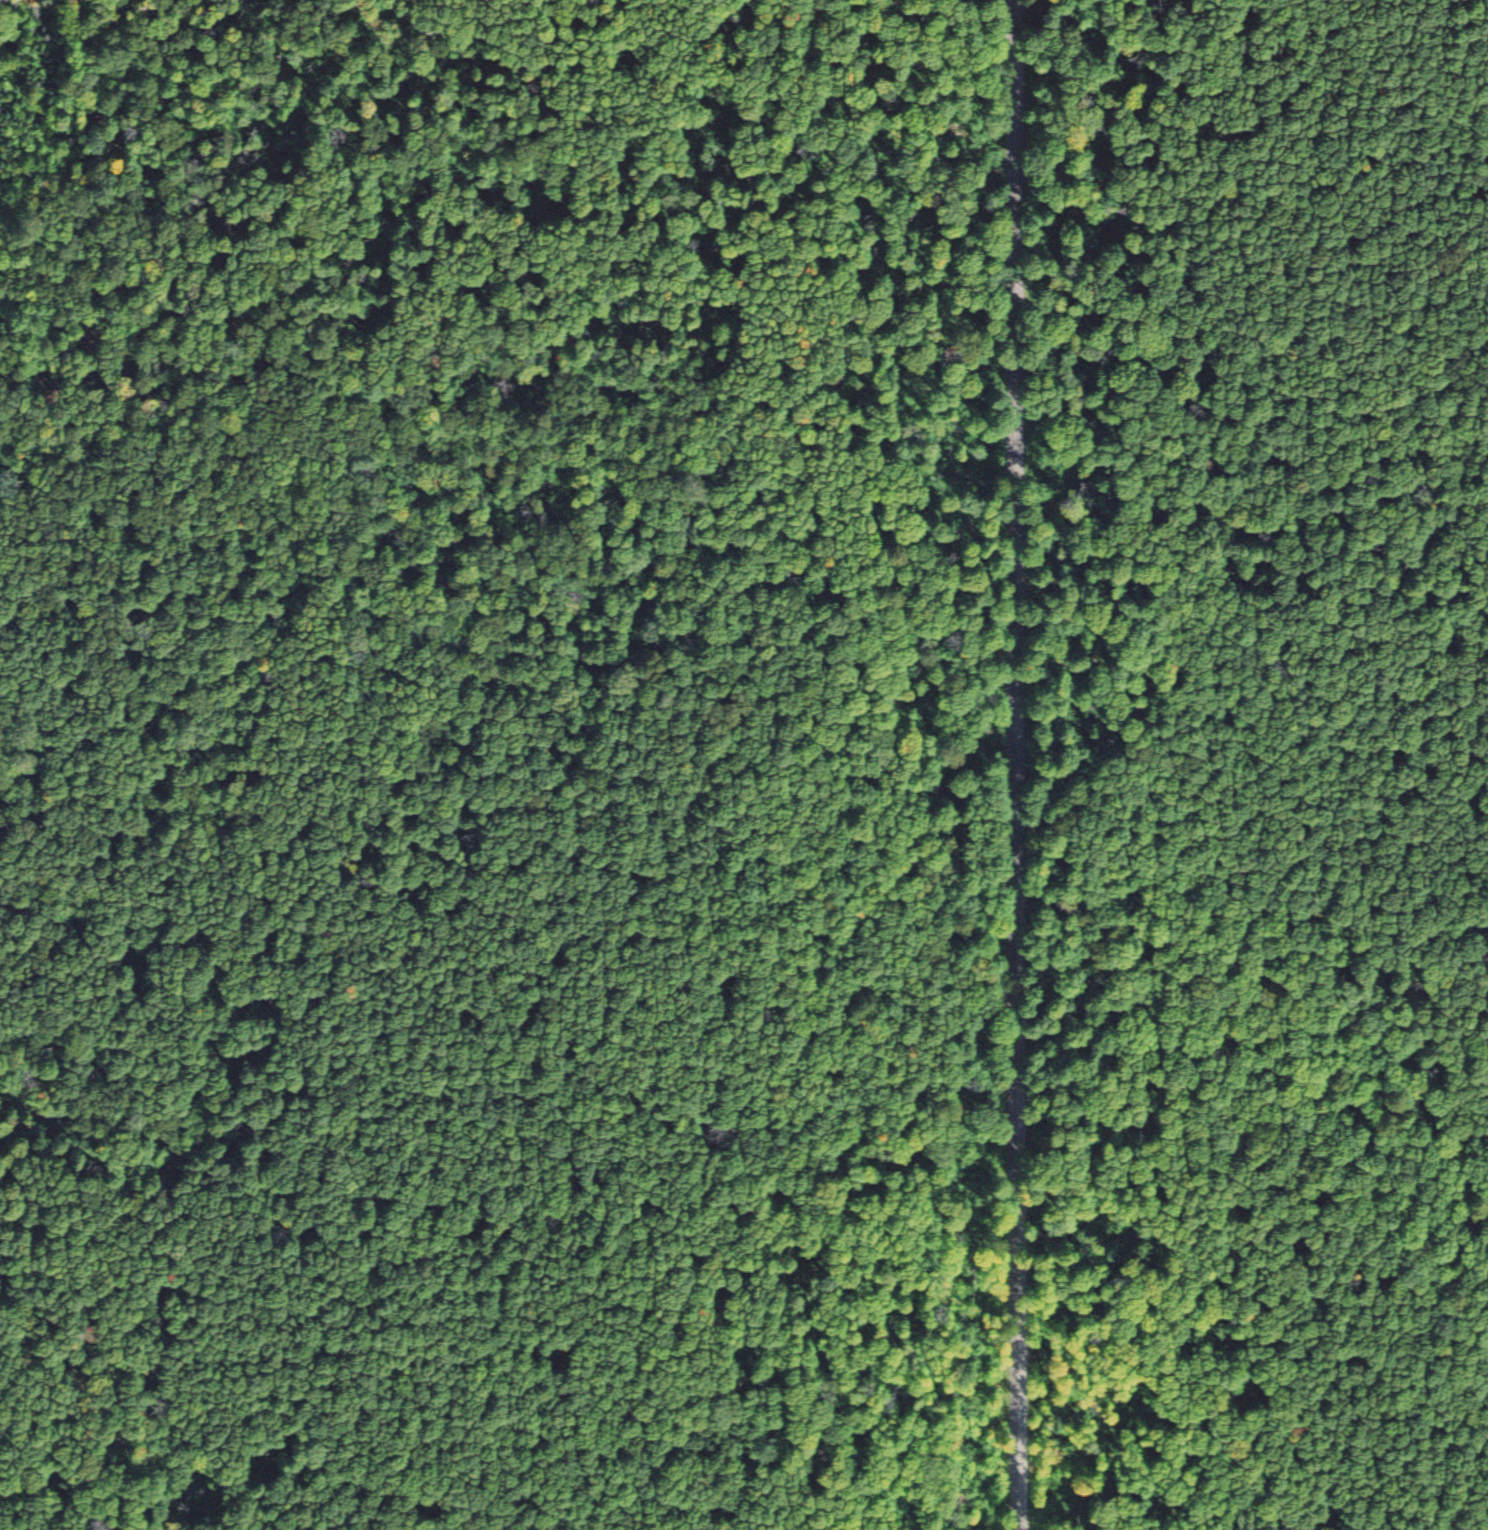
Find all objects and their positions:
road: (509, 161)
road: (1019, 765)
road: (504, 1137)

